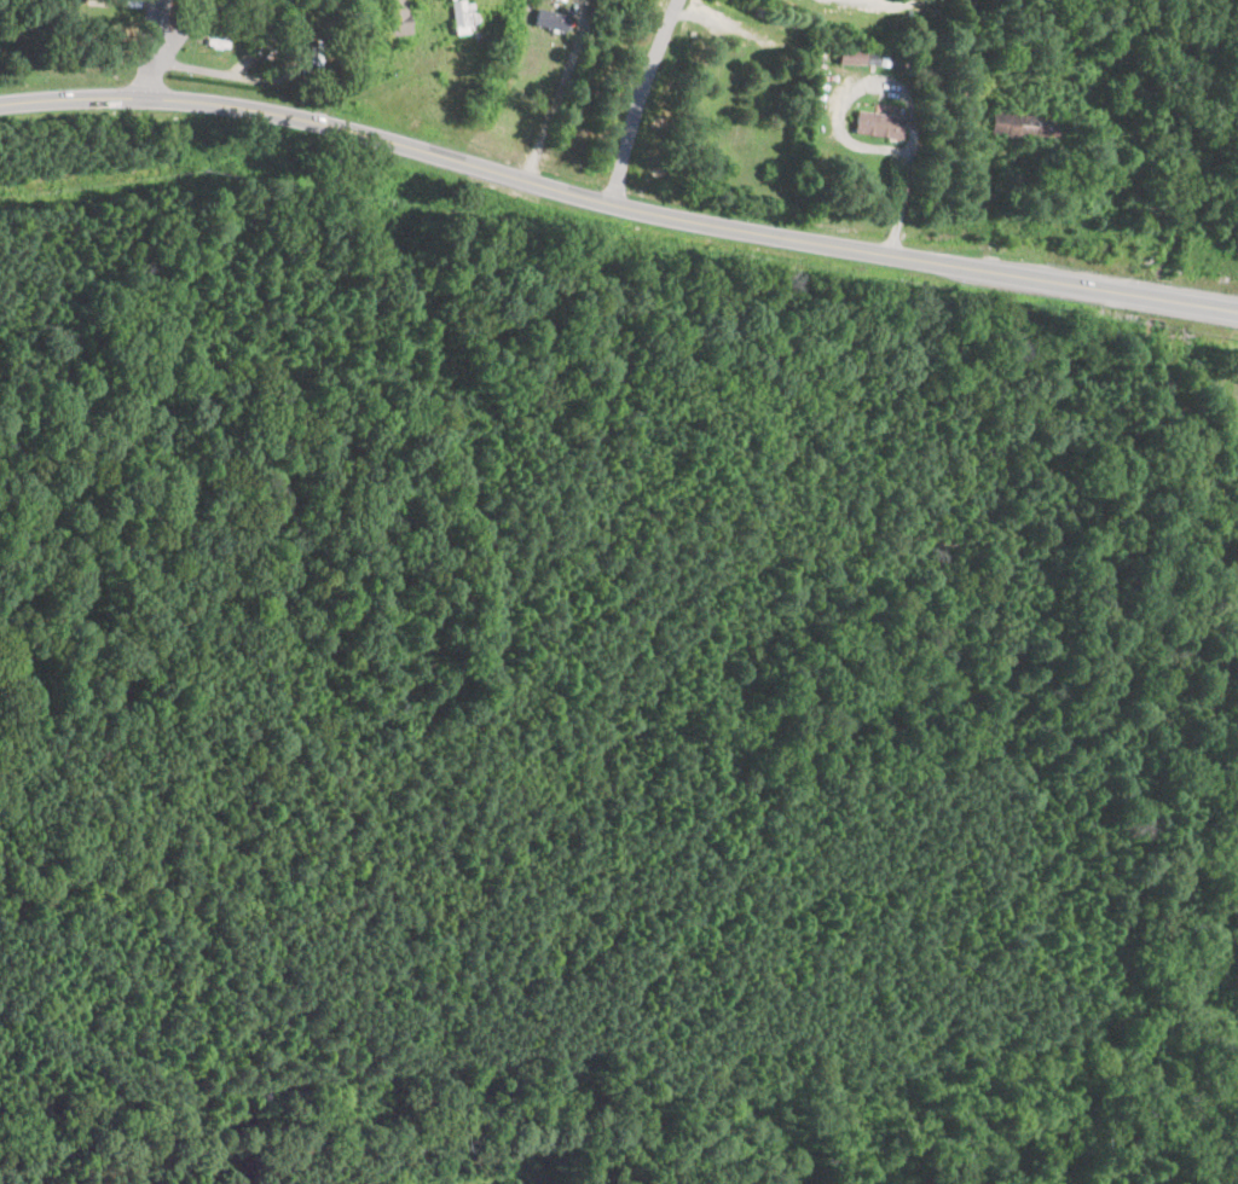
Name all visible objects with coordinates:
road: (190, 10)
building: (462, 16)
building: (394, 17)
building: (549, 18)
road: (226, 21)
road: (169, 47)
building: (849, 56)
road: (638, 98)
road: (554, 103)
building: (877, 123)
building: (1019, 126)
road: (617, 202)

